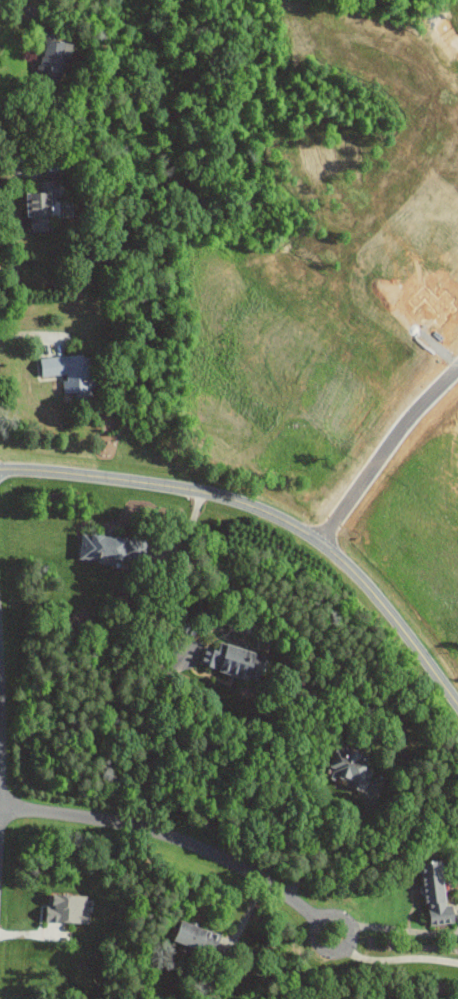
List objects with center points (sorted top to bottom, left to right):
building: (54, 55)
building: (43, 203)
road: (32, 333)
building: (70, 371)
road: (383, 447)
road: (268, 513)
building: (109, 546)
building: (233, 660)
road: (150, 735)
building: (350, 767)
road: (168, 836)
road: (333, 851)
building: (435, 892)
building: (66, 907)
road: (404, 929)
building: (197, 936)
road: (317, 941)
road: (398, 958)

